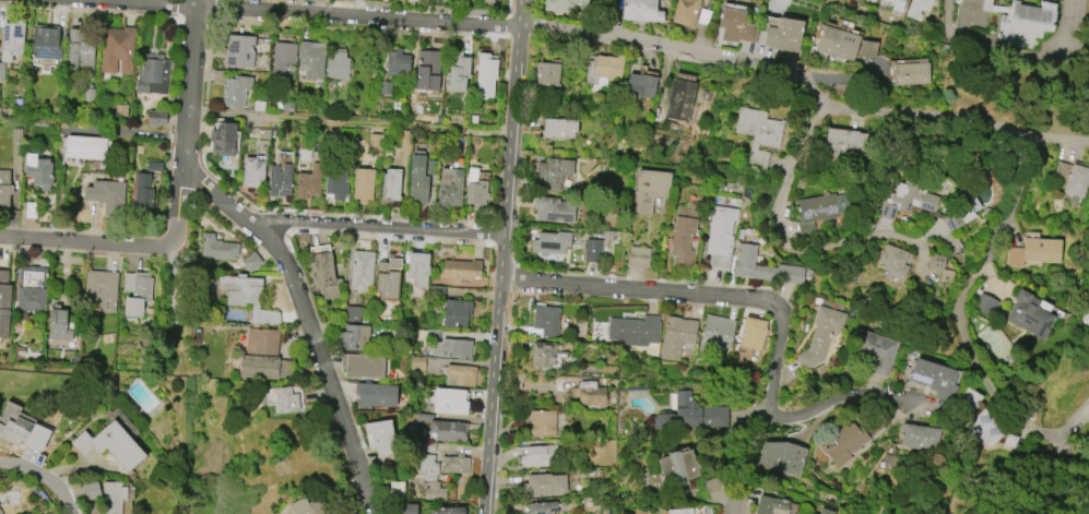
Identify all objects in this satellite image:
building: (485, 0)
building: (861, 0)
building: (487, 1)
building: (564, 4)
building: (897, 4)
building: (641, 10)
building: (916, 10)
building: (685, 12)
building: (972, 13)
building: (1025, 22)
building: (734, 26)
road: (605, 34)
building: (782, 34)
building: (11, 40)
building: (45, 41)
building: (837, 43)
building: (79, 49)
building: (117, 49)
building: (867, 49)
building: (239, 51)
building: (283, 57)
building: (311, 60)
building: (338, 64)
building: (398, 64)
building: (1, 70)
building: (427, 70)
building: (602, 71)
building: (911, 72)
building: (458, 73)
building: (547, 73)
building: (152, 75)
building: (485, 75)
building: (639, 86)
building: (384, 87)
building: (235, 91)
building: (678, 99)
building: (155, 118)
road: (351, 121)
building: (558, 128)
road: (188, 133)
building: (758, 135)
building: (222, 140)
building: (845, 144)
building: (84, 147)
building: (154, 166)
building: (38, 170)
building: (252, 172)
building: (553, 172)
building: (1073, 179)
building: (279, 180)
building: (308, 182)
building: (416, 182)
building: (335, 183)
building: (362, 184)
building: (390, 184)
building: (449, 188)
building: (4, 190)
building: (142, 190)
building: (648, 190)
building: (106, 191)
building: (476, 194)
building: (909, 198)
building: (824, 207)
building: (553, 210)
building: (963, 212)
road: (378, 229)
building: (683, 235)
building: (720, 237)
road: (785, 241)
building: (551, 242)
road: (76, 244)
building: (217, 248)
building: (592, 250)
building: (1034, 252)
road: (504, 256)
building: (639, 256)
building: (250, 261)
building: (936, 262)
building: (893, 263)
building: (417, 267)
building: (764, 267)
building: (360, 270)
building: (459, 270)
building: (323, 275)
road: (972, 275)
building: (388, 278)
building: (31, 288)
building: (102, 289)
building: (137, 291)
building: (248, 297)
building: (4, 304)
road: (771, 304)
building: (985, 304)
building: (351, 313)
building: (455, 313)
building: (1029, 314)
building: (545, 320)
road: (309, 324)
building: (58, 325)
building: (634, 331)
building: (715, 332)
building: (676, 336)
building: (820, 336)
building: (352, 337)
building: (750, 338)
building: (451, 348)
building: (873, 351)
building: (260, 354)
building: (546, 355)
building: (362, 364)
building: (460, 375)
building: (934, 378)
building: (590, 394)
building: (375, 395)
building: (285, 401)
building: (449, 401)
building: (690, 414)
building: (982, 421)
building: (541, 423)
building: (448, 430)
building: (23, 433)
building: (919, 437)
building: (380, 438)
building: (843, 443)
building: (110, 444)
building: (536, 455)
building: (782, 456)
building: (454, 464)
building: (427, 467)
building: (676, 467)
road: (40, 478)
building: (543, 485)
building: (91, 490)
building: (434, 492)
road: (735, 492)
building: (113, 497)
building: (771, 504)
building: (307, 506)
building: (542, 507)
building: (406, 509)
building: (708, 510)
building: (448, 511)
building: (679, 511)
building: (825, 512)

